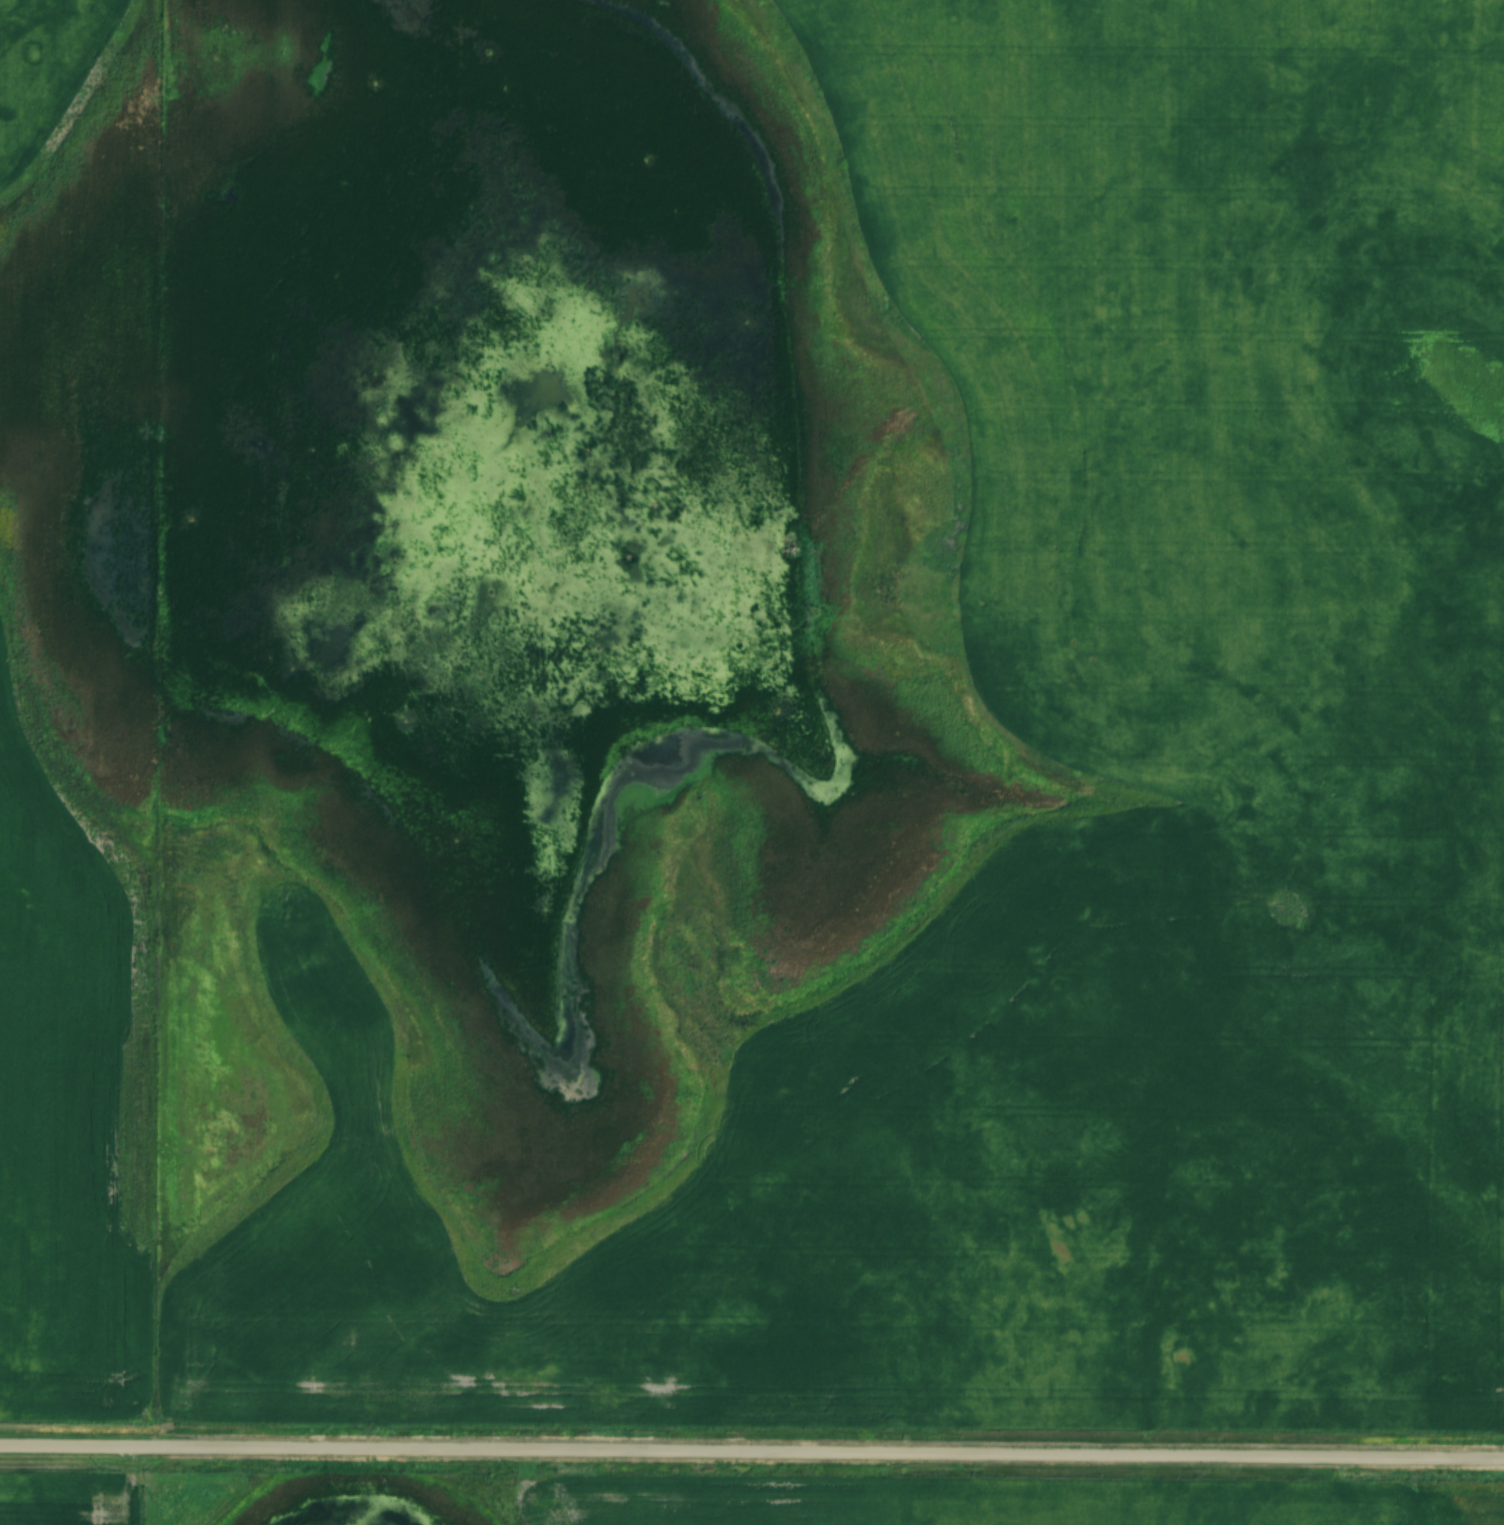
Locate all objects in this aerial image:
road: (752, 1449)

